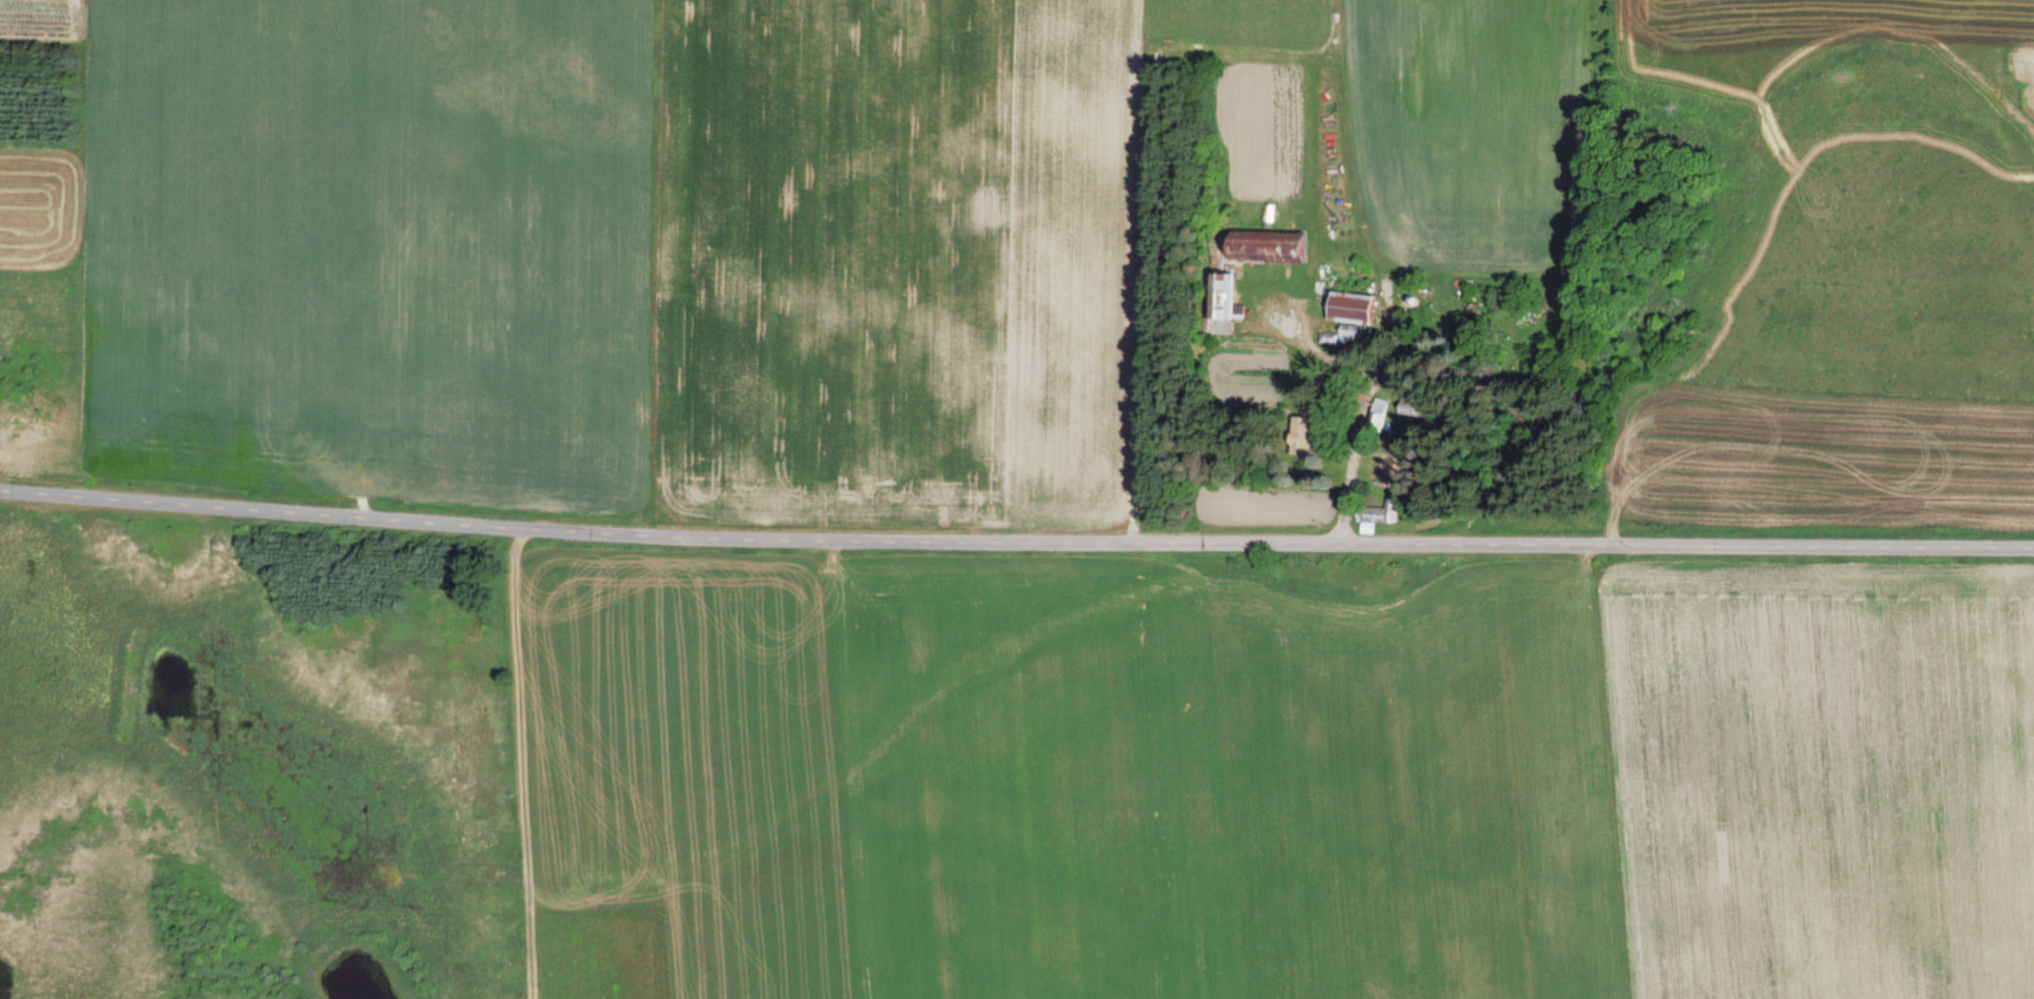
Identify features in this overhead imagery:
building: (1264, 247)
building: (1219, 304)
building: (1349, 308)
building: (1352, 335)
building: (1301, 436)
building: (1378, 513)
road: (1016, 536)

